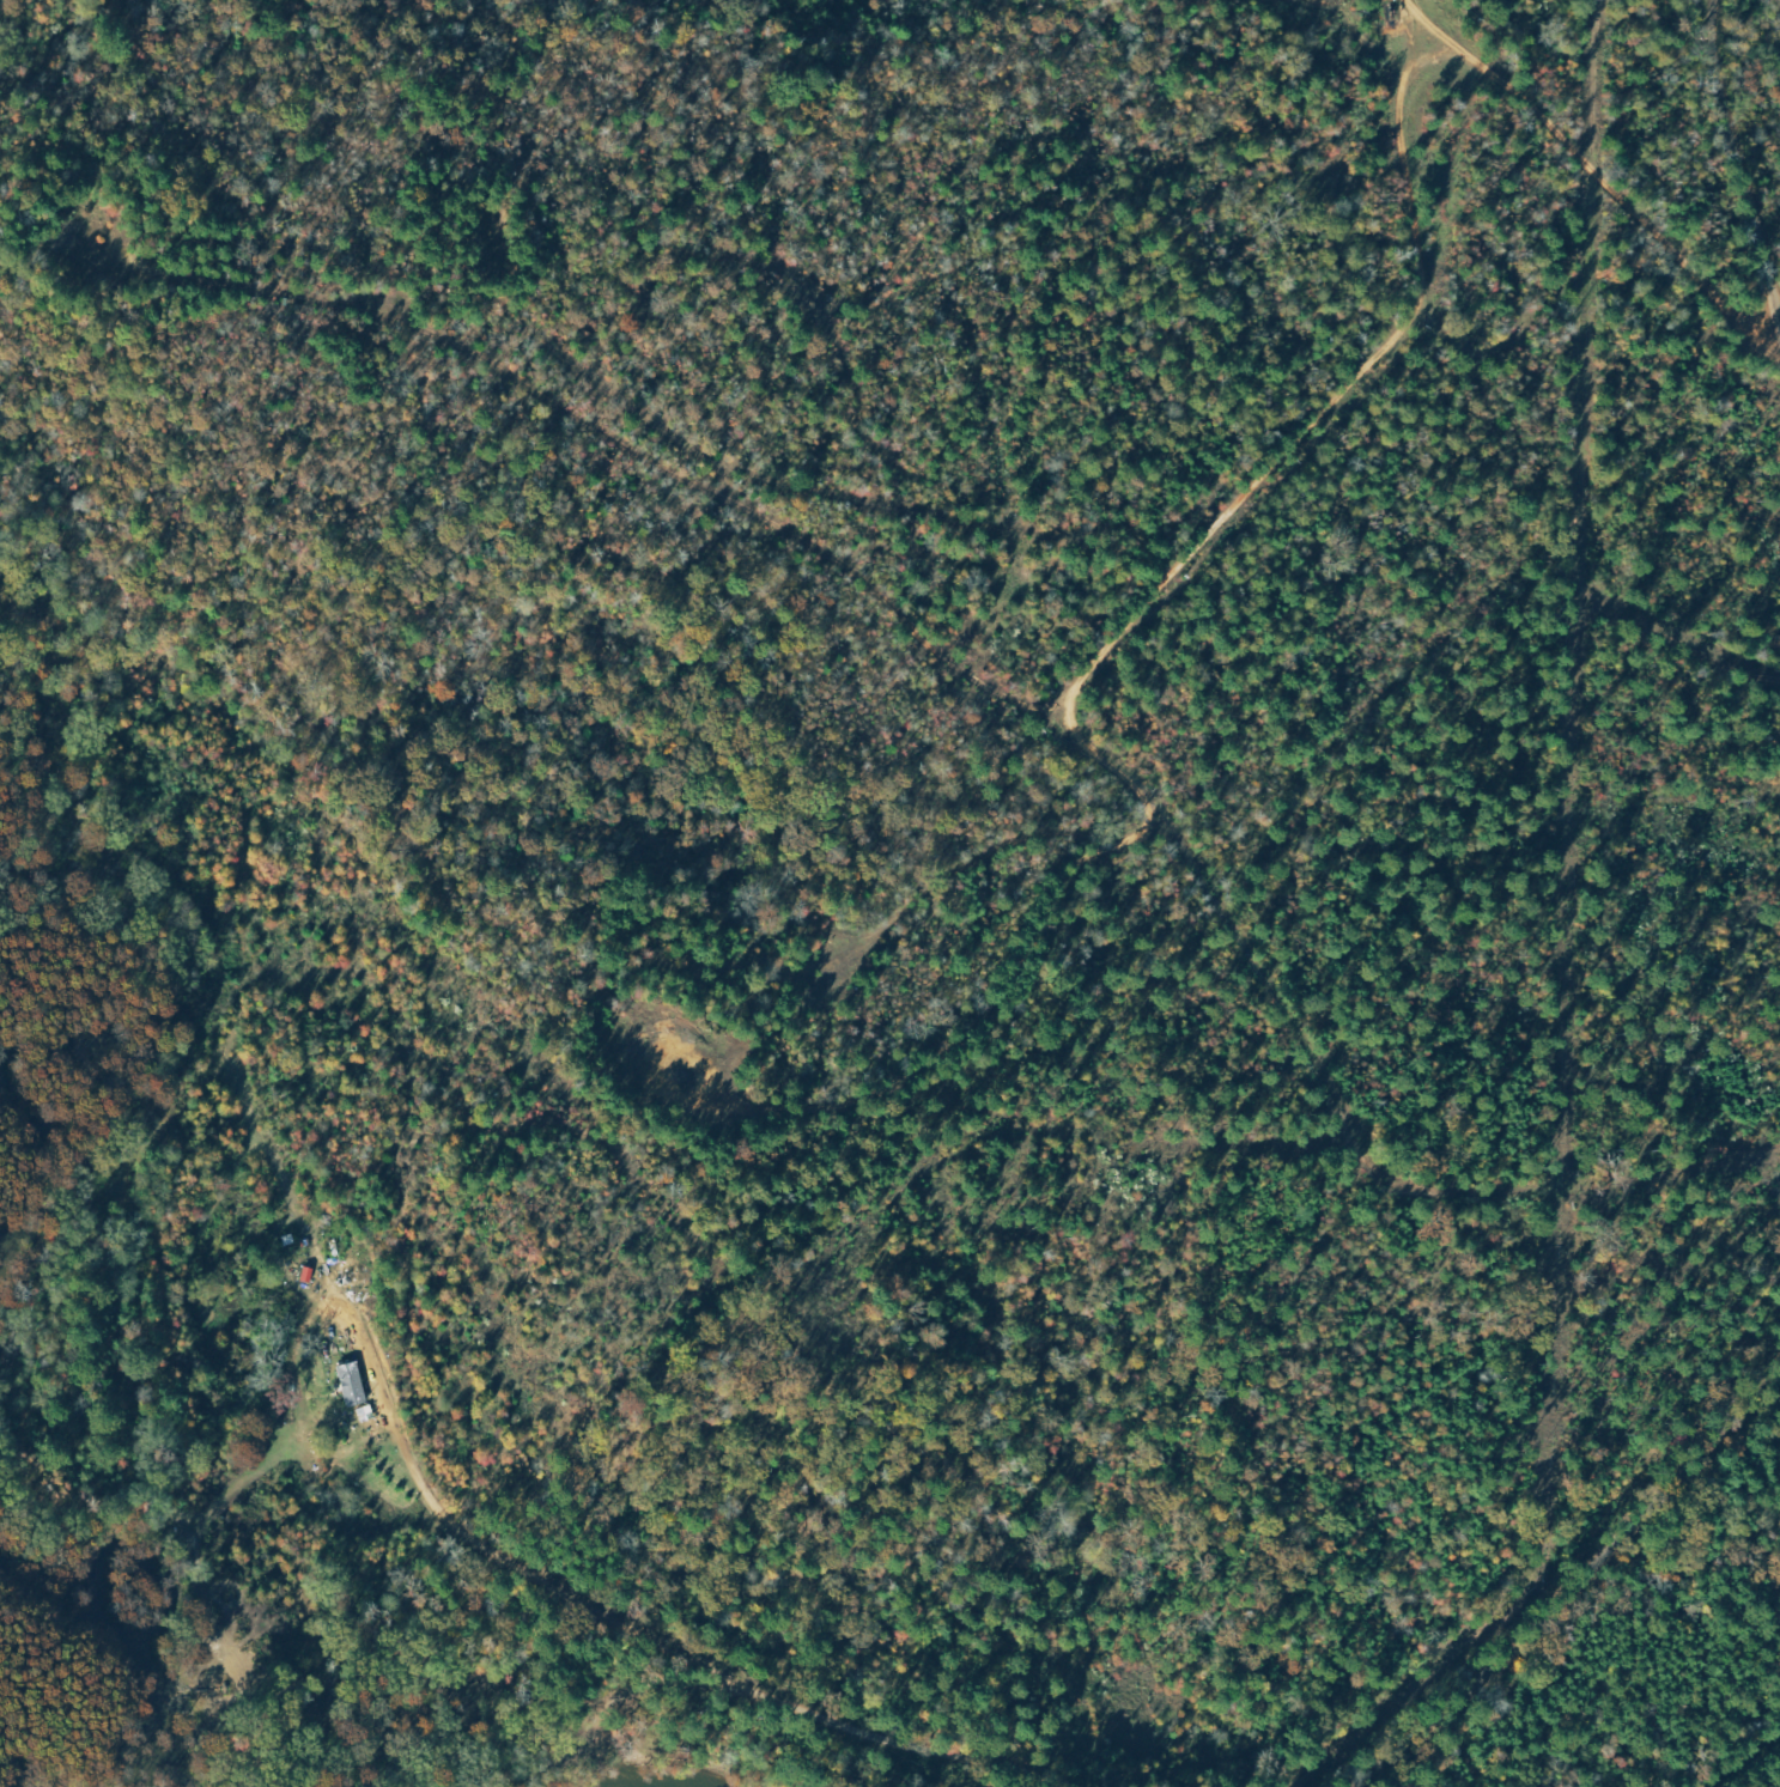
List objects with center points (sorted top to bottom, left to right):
road: (1743, 153)
road: (1605, 177)
road: (1380, 1157)
river: (43, 1174)
building: (354, 1384)
road: (594, 1552)
road: (1567, 1557)
river: (139, 1636)
road: (542, 1698)

